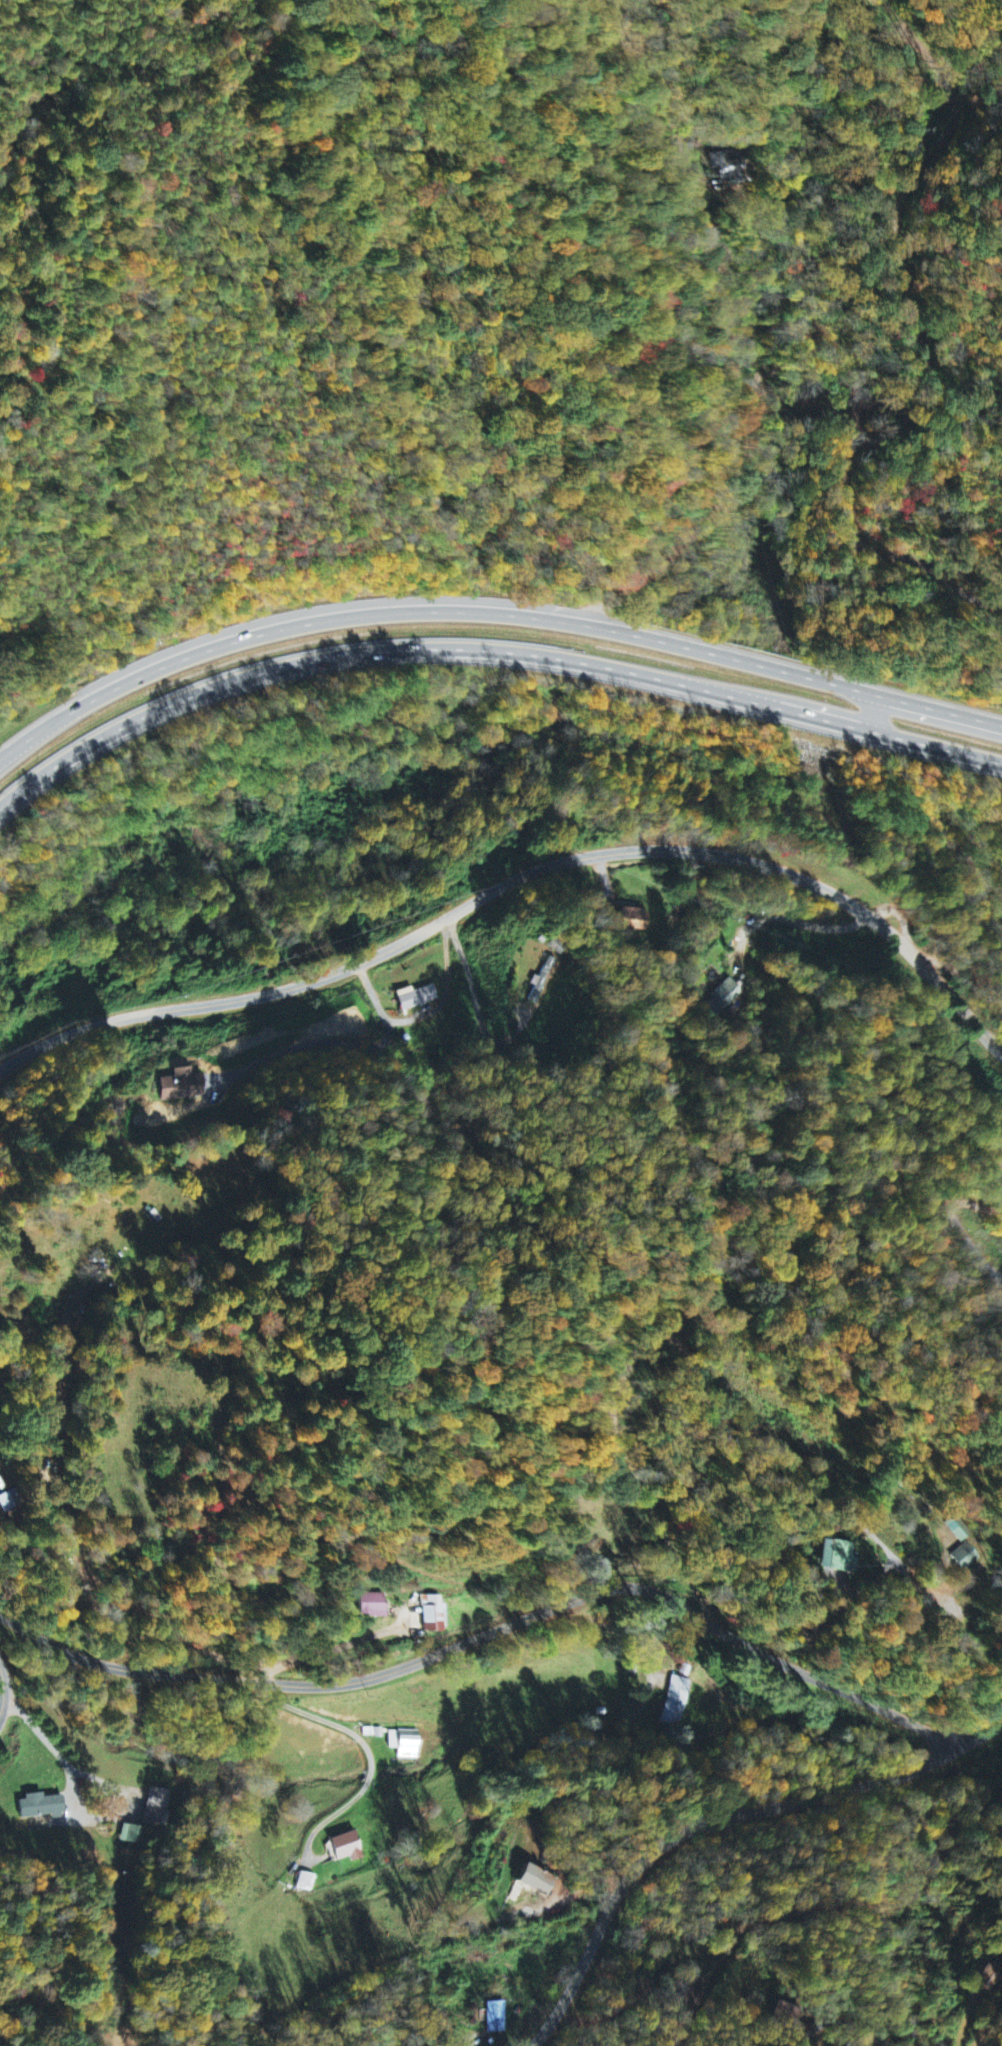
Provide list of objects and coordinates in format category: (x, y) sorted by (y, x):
road: (813, 334)
road: (491, 615)
road: (490, 648)
road: (871, 711)
road: (516, 887)
road: (960, 974)
building: (541, 982)
building: (725, 997)
building: (415, 998)
building: (180, 1086)
building: (956, 1531)
building: (837, 1557)
building: (963, 1558)
building: (372, 1608)
building: (433, 1614)
road: (511, 1628)
road: (2, 1694)
building: (677, 1702)
building: (406, 1744)
building: (39, 1808)
building: (157, 1808)
road: (697, 1829)
building: (132, 1835)
building: (345, 1847)
building: (534, 1879)
road: (777, 1914)
building: (496, 2018)
road: (841, 2022)
road: (870, 2040)

